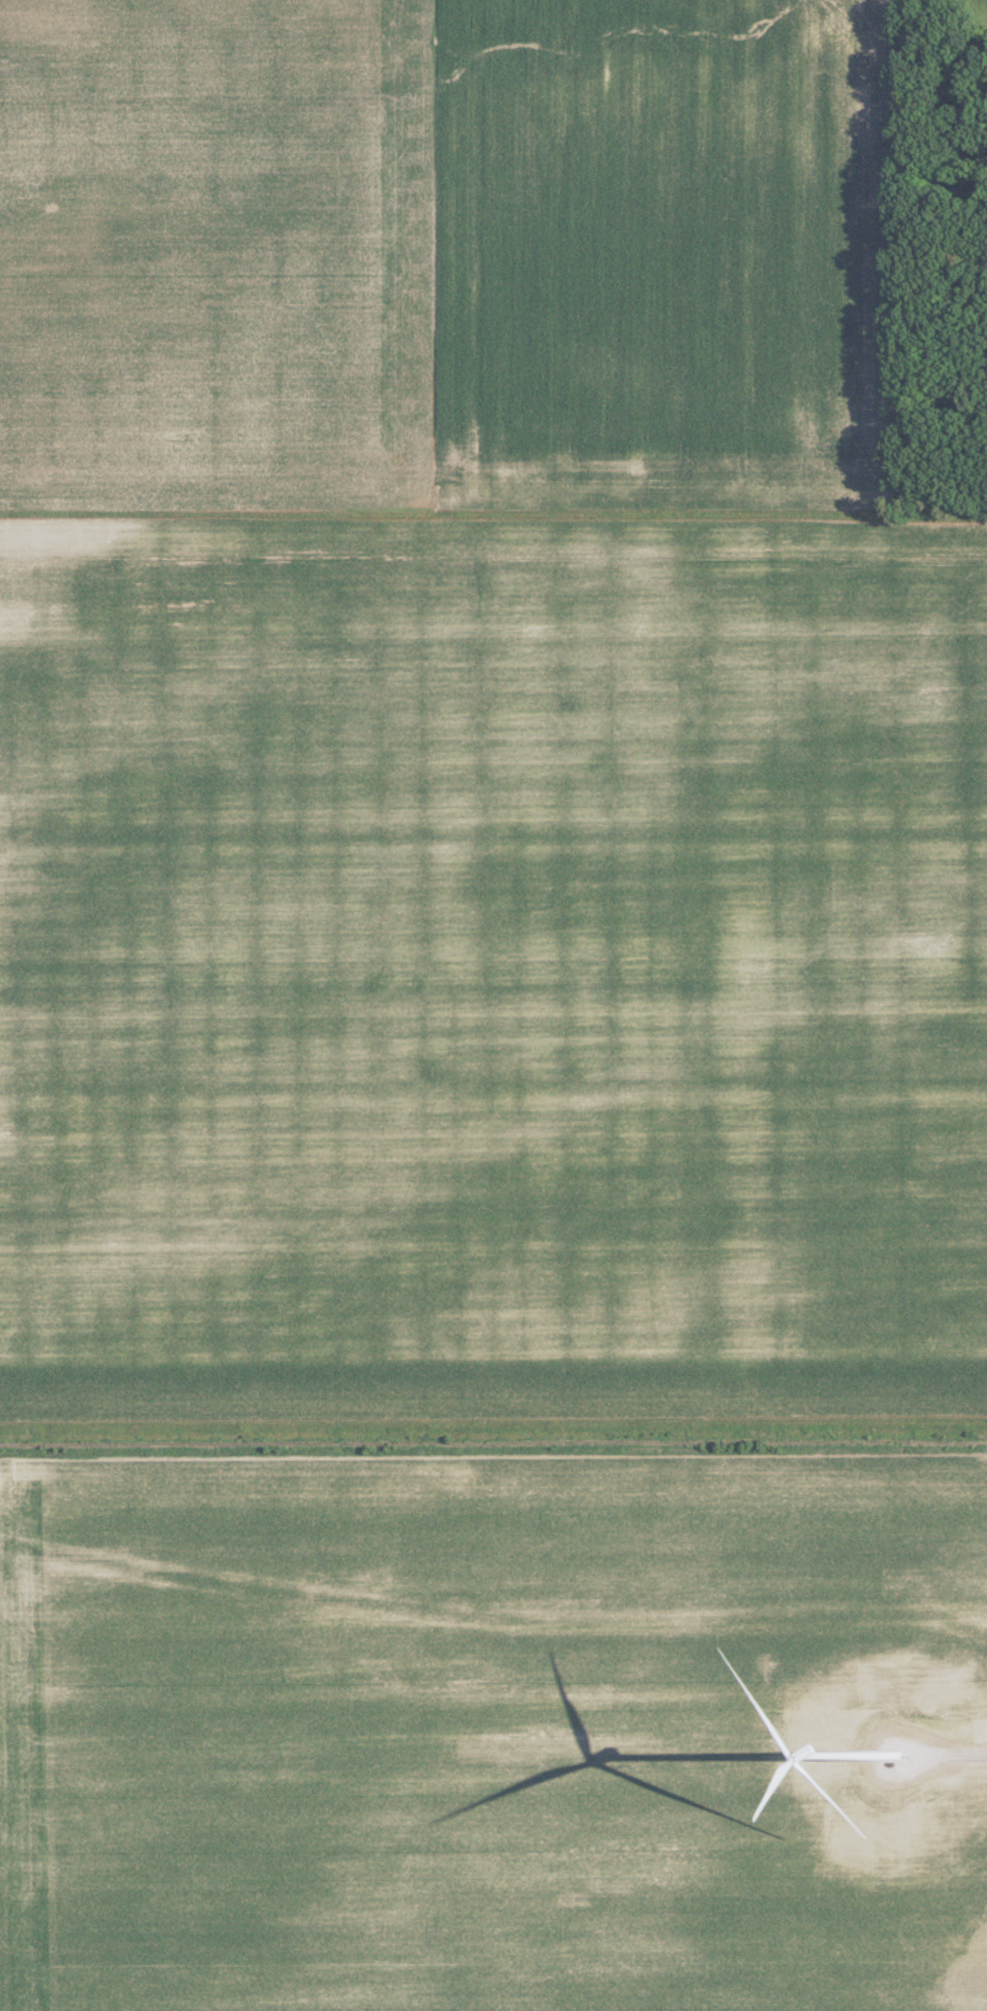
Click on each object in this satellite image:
wind turbine: (906, 1764)

